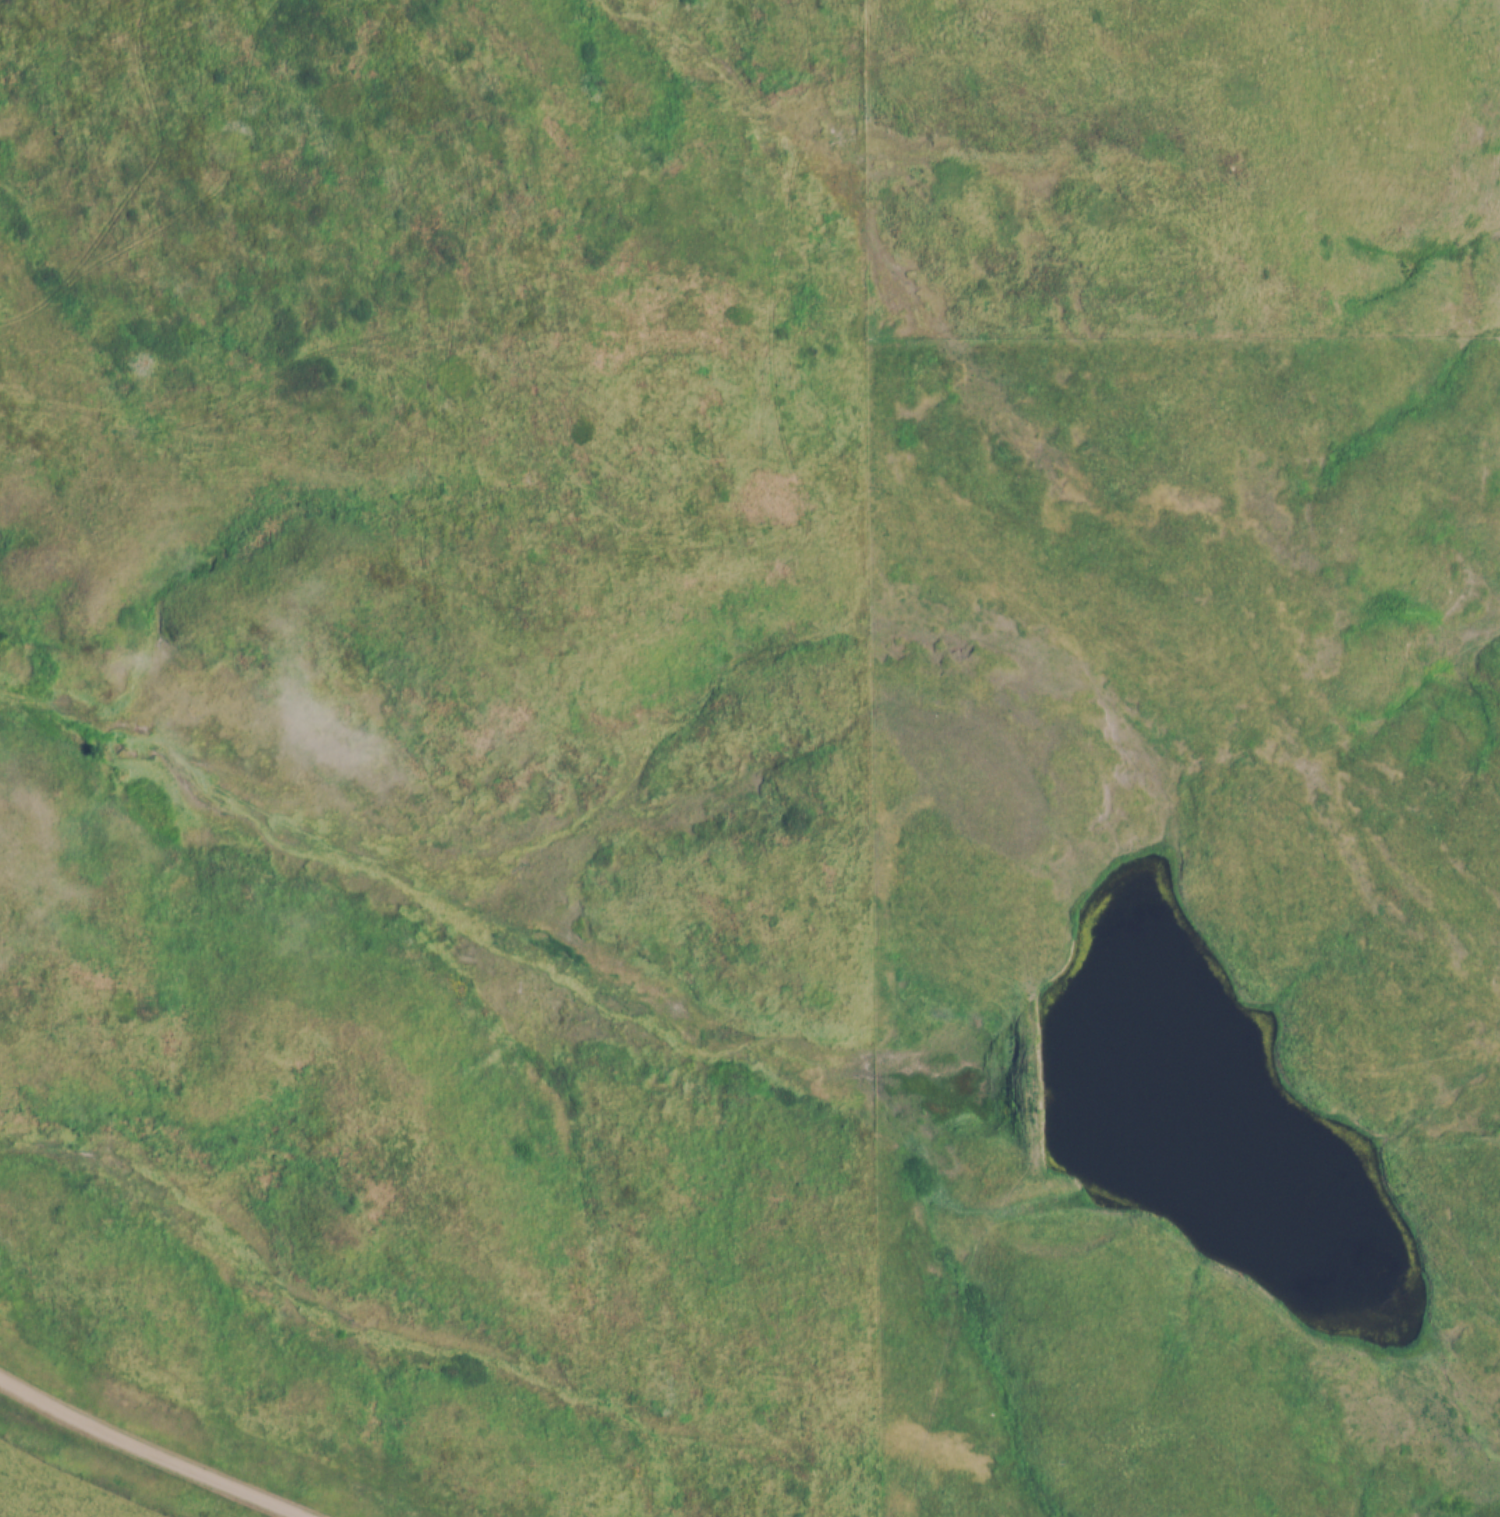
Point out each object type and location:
road: (149, 1451)

